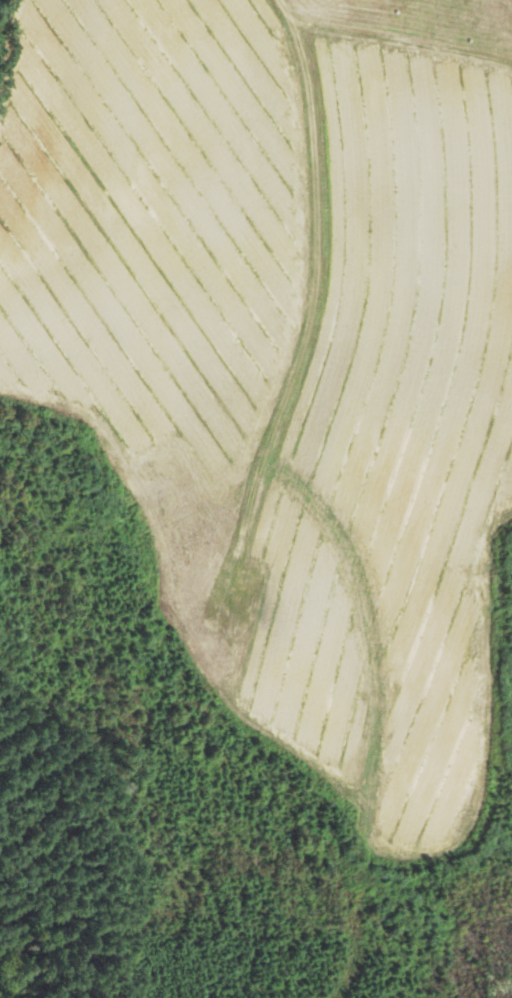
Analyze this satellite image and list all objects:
road: (313, 288)
building: (252, 578)

